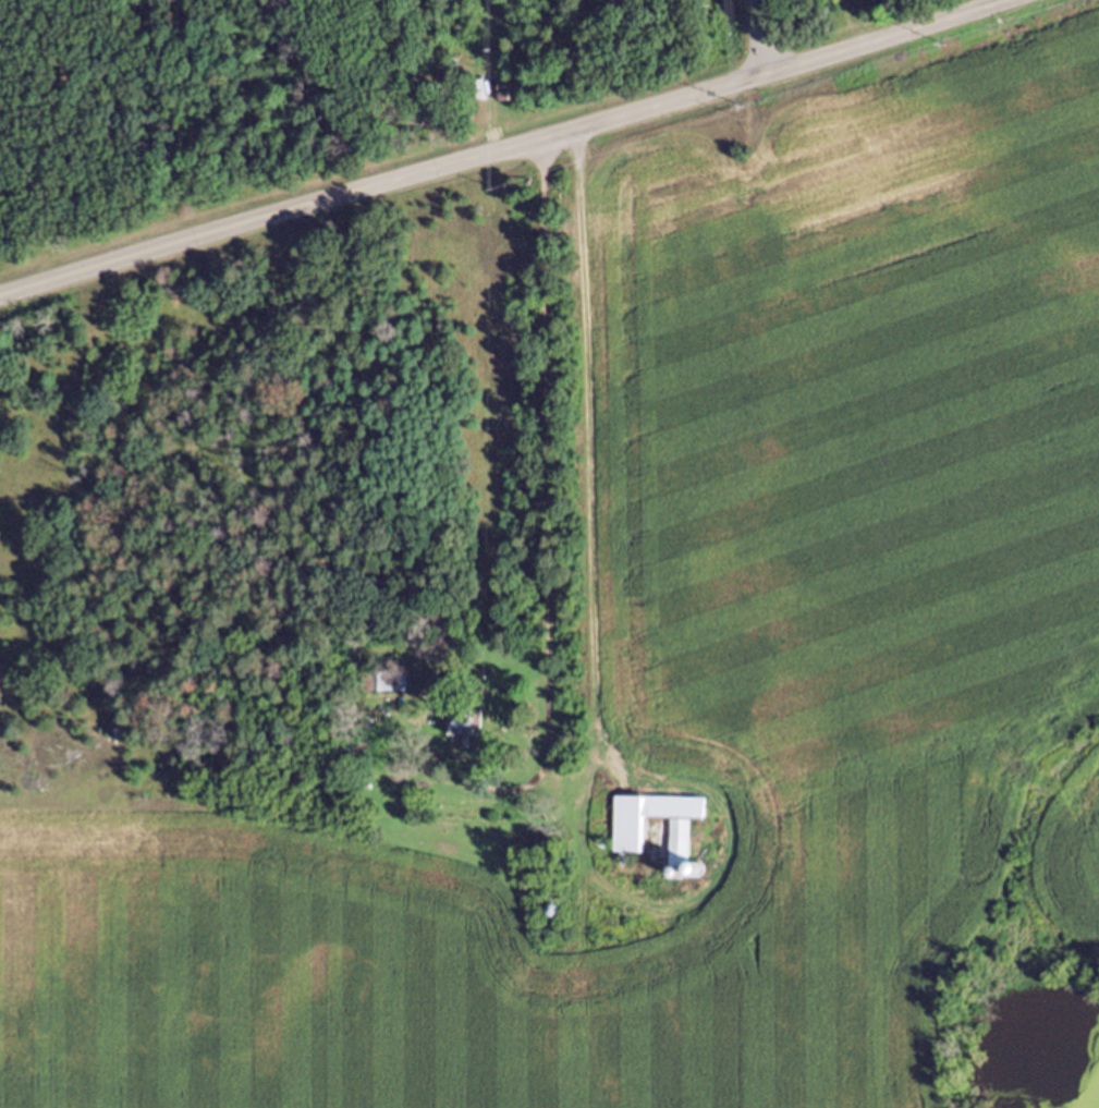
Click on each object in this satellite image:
road: (756, 40)
road: (510, 150)
road: (579, 459)
road: (546, 482)
building: (388, 687)
building: (467, 731)
building: (659, 832)

